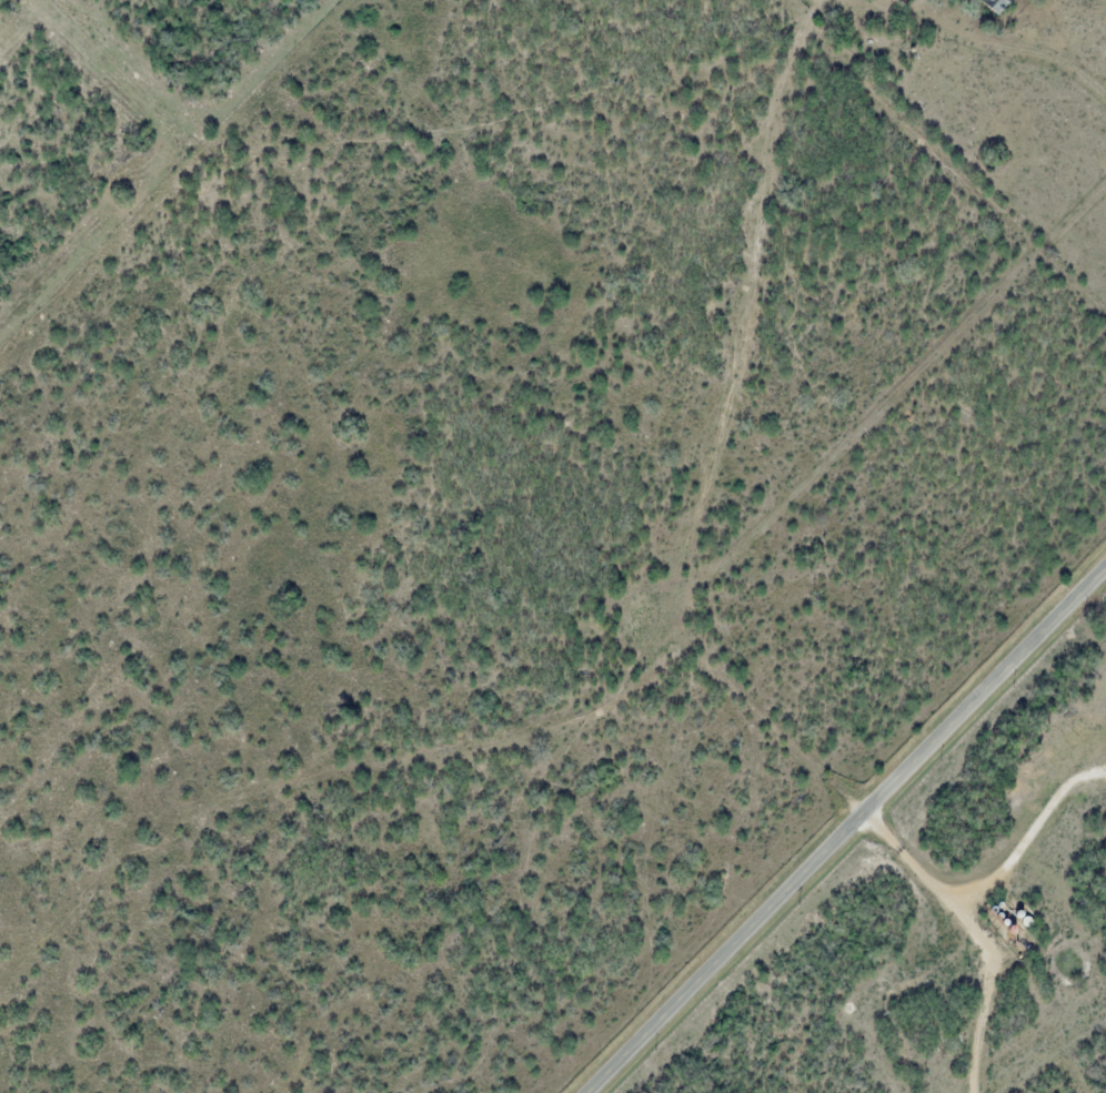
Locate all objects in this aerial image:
road: (924, 4)
building: (996, 4)
road: (1018, 49)
road: (848, 831)
road: (1025, 842)
road: (973, 938)

